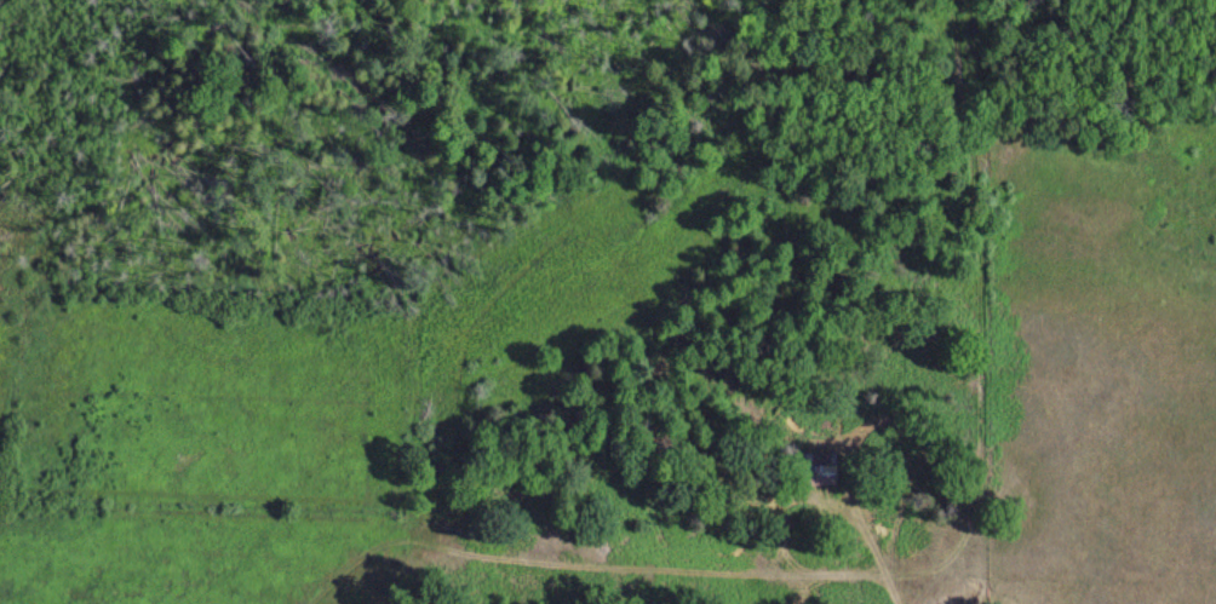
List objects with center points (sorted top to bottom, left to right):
building: (815, 468)

